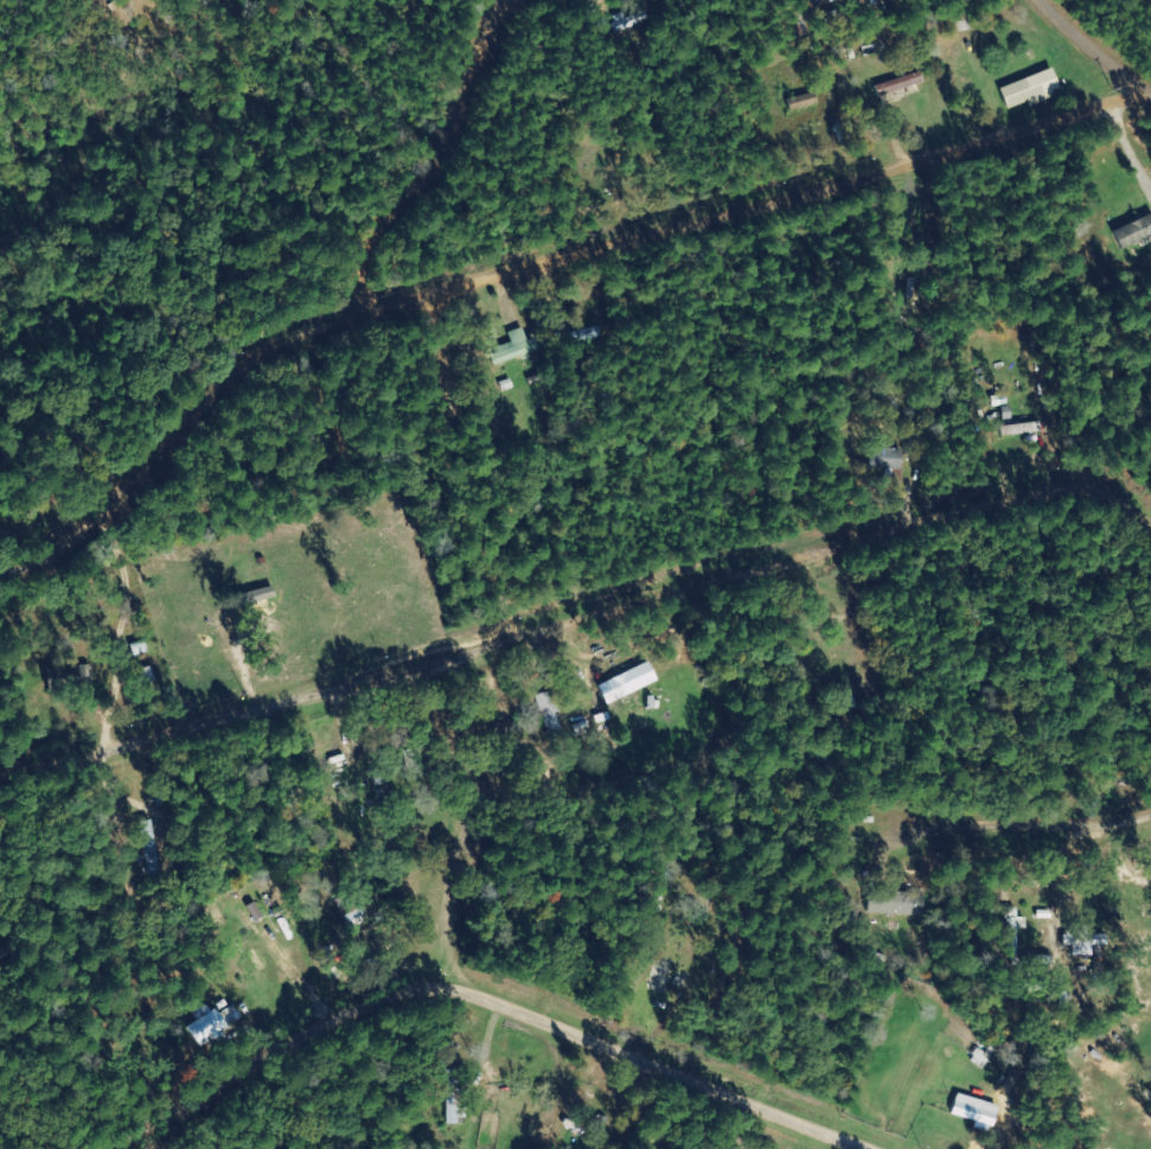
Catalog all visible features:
building: (959, 24)
road: (1105, 36)
building: (900, 84)
building: (1031, 90)
building: (802, 103)
road: (775, 218)
building: (1134, 232)
building: (583, 336)
road: (328, 341)
building: (516, 347)
road: (565, 658)
building: (627, 683)
building: (152, 849)
road: (1100, 882)
building: (896, 904)
building: (1013, 931)
building: (1081, 941)
building: (215, 1027)
road: (527, 1054)
building: (977, 1107)

